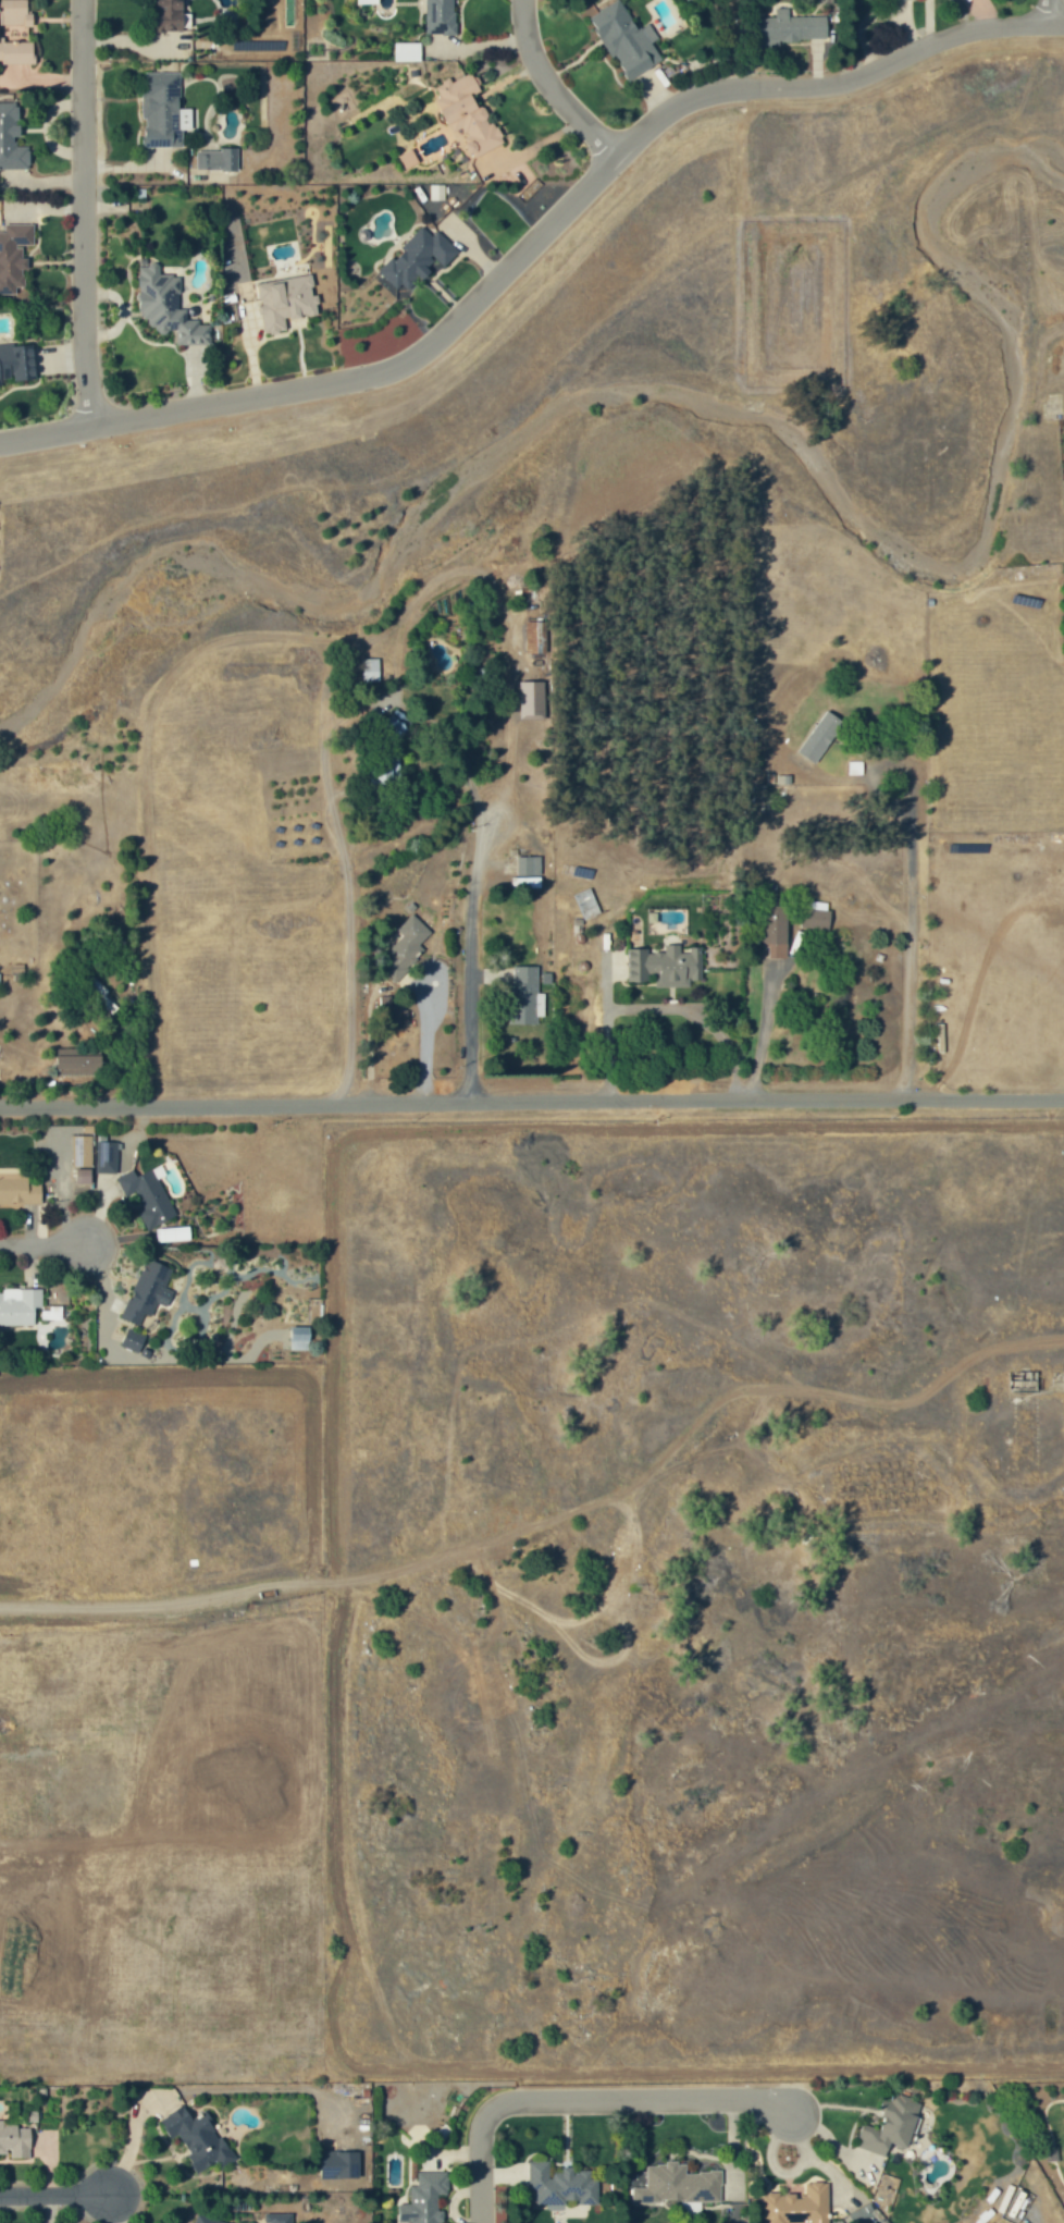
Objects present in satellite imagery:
building: (368, 1)
road: (1054, 7)
building: (15, 12)
building: (169, 15)
building: (441, 16)
building: (789, 28)
building: (627, 39)
building: (407, 51)
building: (16, 52)
road: (833, 82)
road: (553, 83)
building: (164, 111)
building: (468, 114)
building: (12, 138)
building: (218, 159)
building: (436, 192)
road: (83, 210)
building: (13, 256)
building: (417, 258)
building: (286, 300)
building: (166, 306)
building: (17, 361)
road: (348, 379)
building: (536, 637)
building: (532, 700)
building: (820, 736)
road: (465, 767)
building: (392, 770)
building: (528, 871)
building: (816, 916)
building: (777, 931)
road: (466, 956)
building: (666, 966)
building: (99, 994)
building: (527, 996)
road: (422, 1041)
building: (79, 1060)
road: (531, 1096)
building: (107, 1157)
building: (83, 1159)
building: (20, 1187)
building: (151, 1198)
building: (174, 1235)
road: (41, 1241)
building: (149, 1291)
building: (20, 1306)
building: (54, 1314)
building: (300, 1338)
building: (134, 1341)
building: (14, 1808)
road: (583, 2101)
building: (892, 2126)
building: (198, 2138)
building: (14, 2139)
road: (992, 2162)
building: (341, 2164)
building: (559, 2185)
building: (678, 2185)
road: (52, 2189)
building: (425, 2199)
building: (799, 2203)
building: (691, 2209)
building: (279, 2218)
building: (206, 2219)

